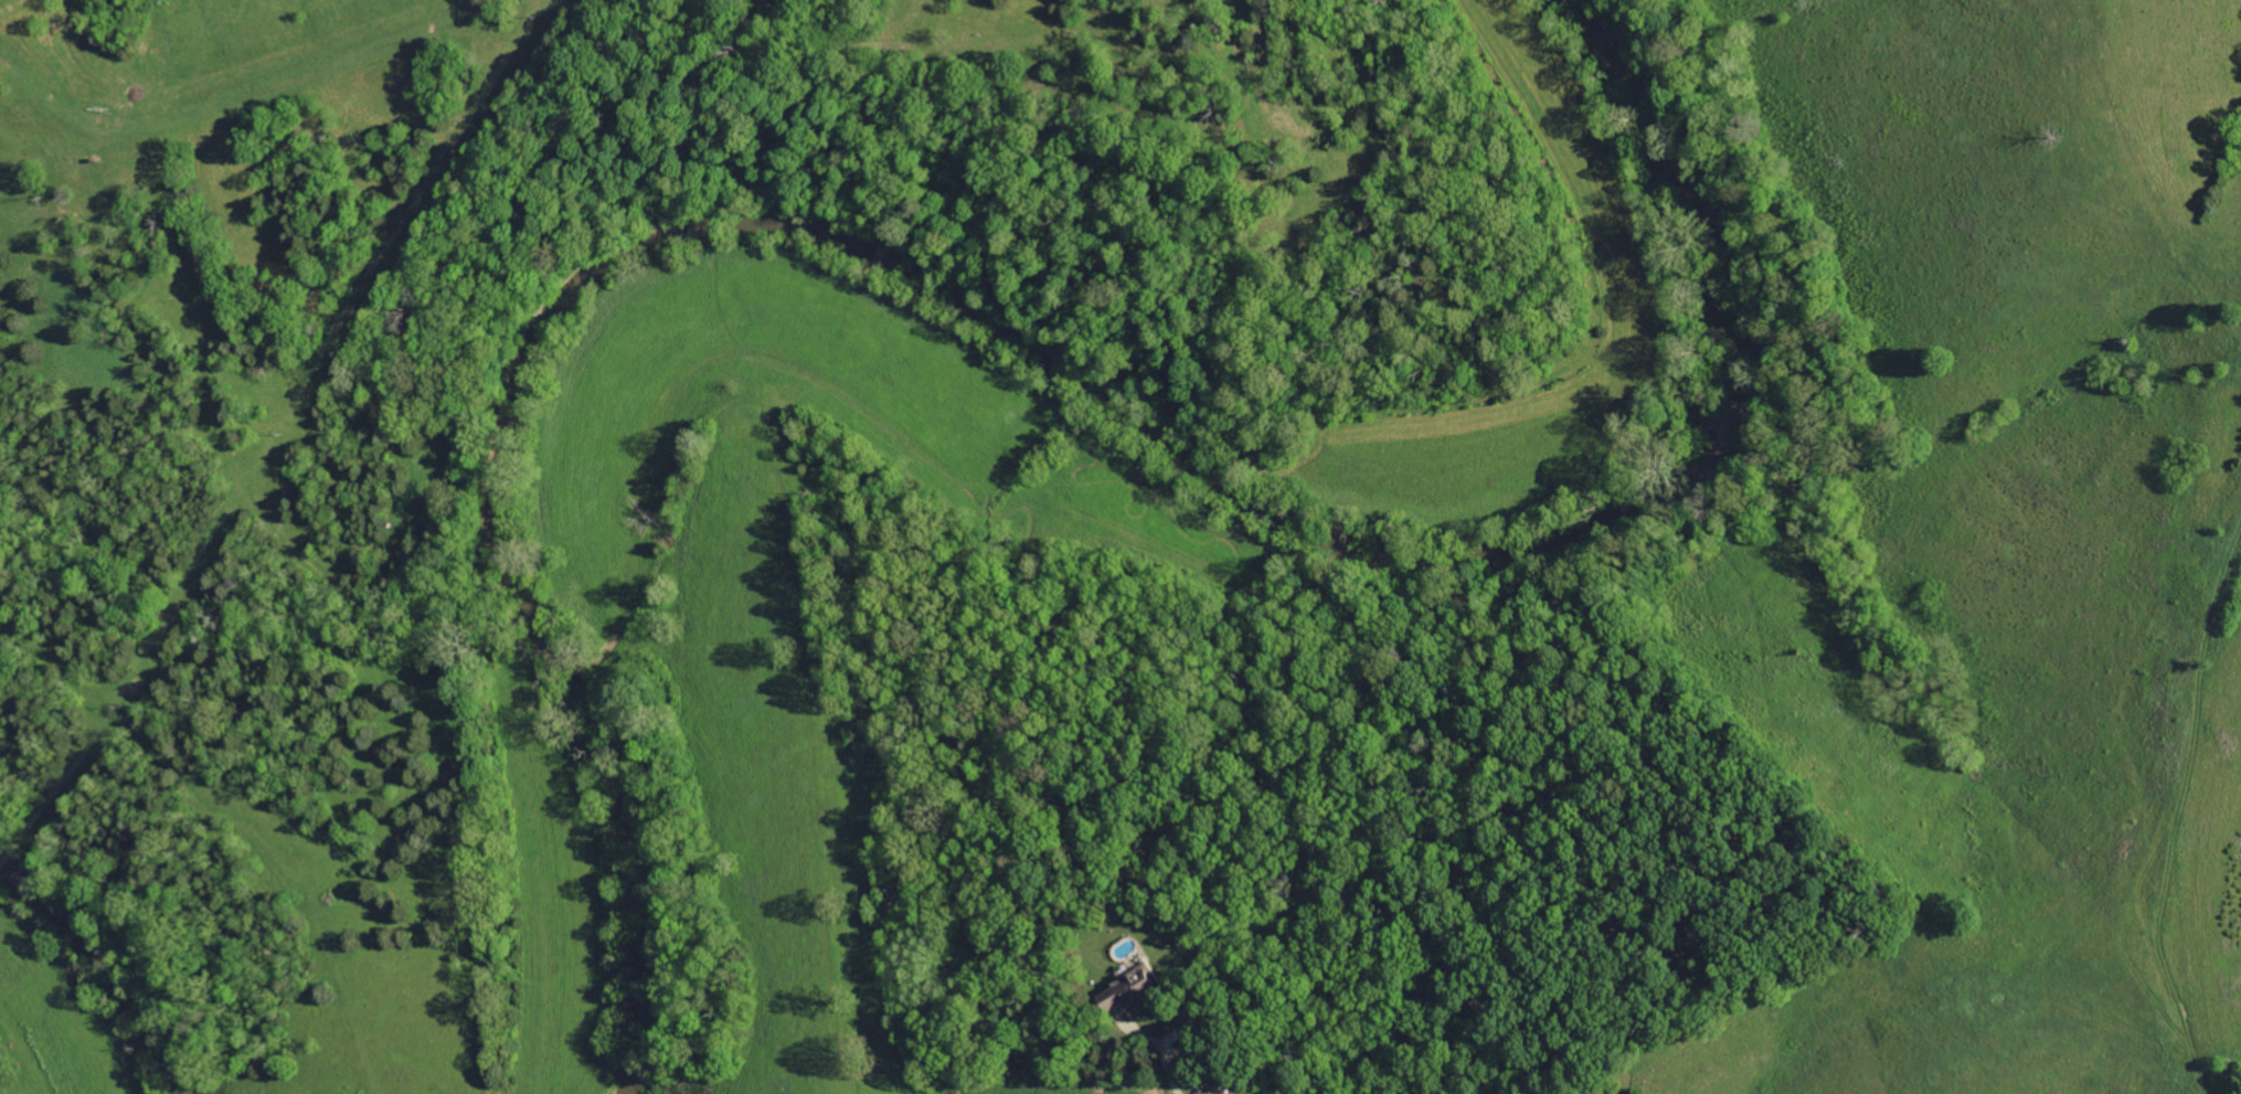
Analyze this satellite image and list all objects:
building: (1128, 989)
road: (1171, 1073)

